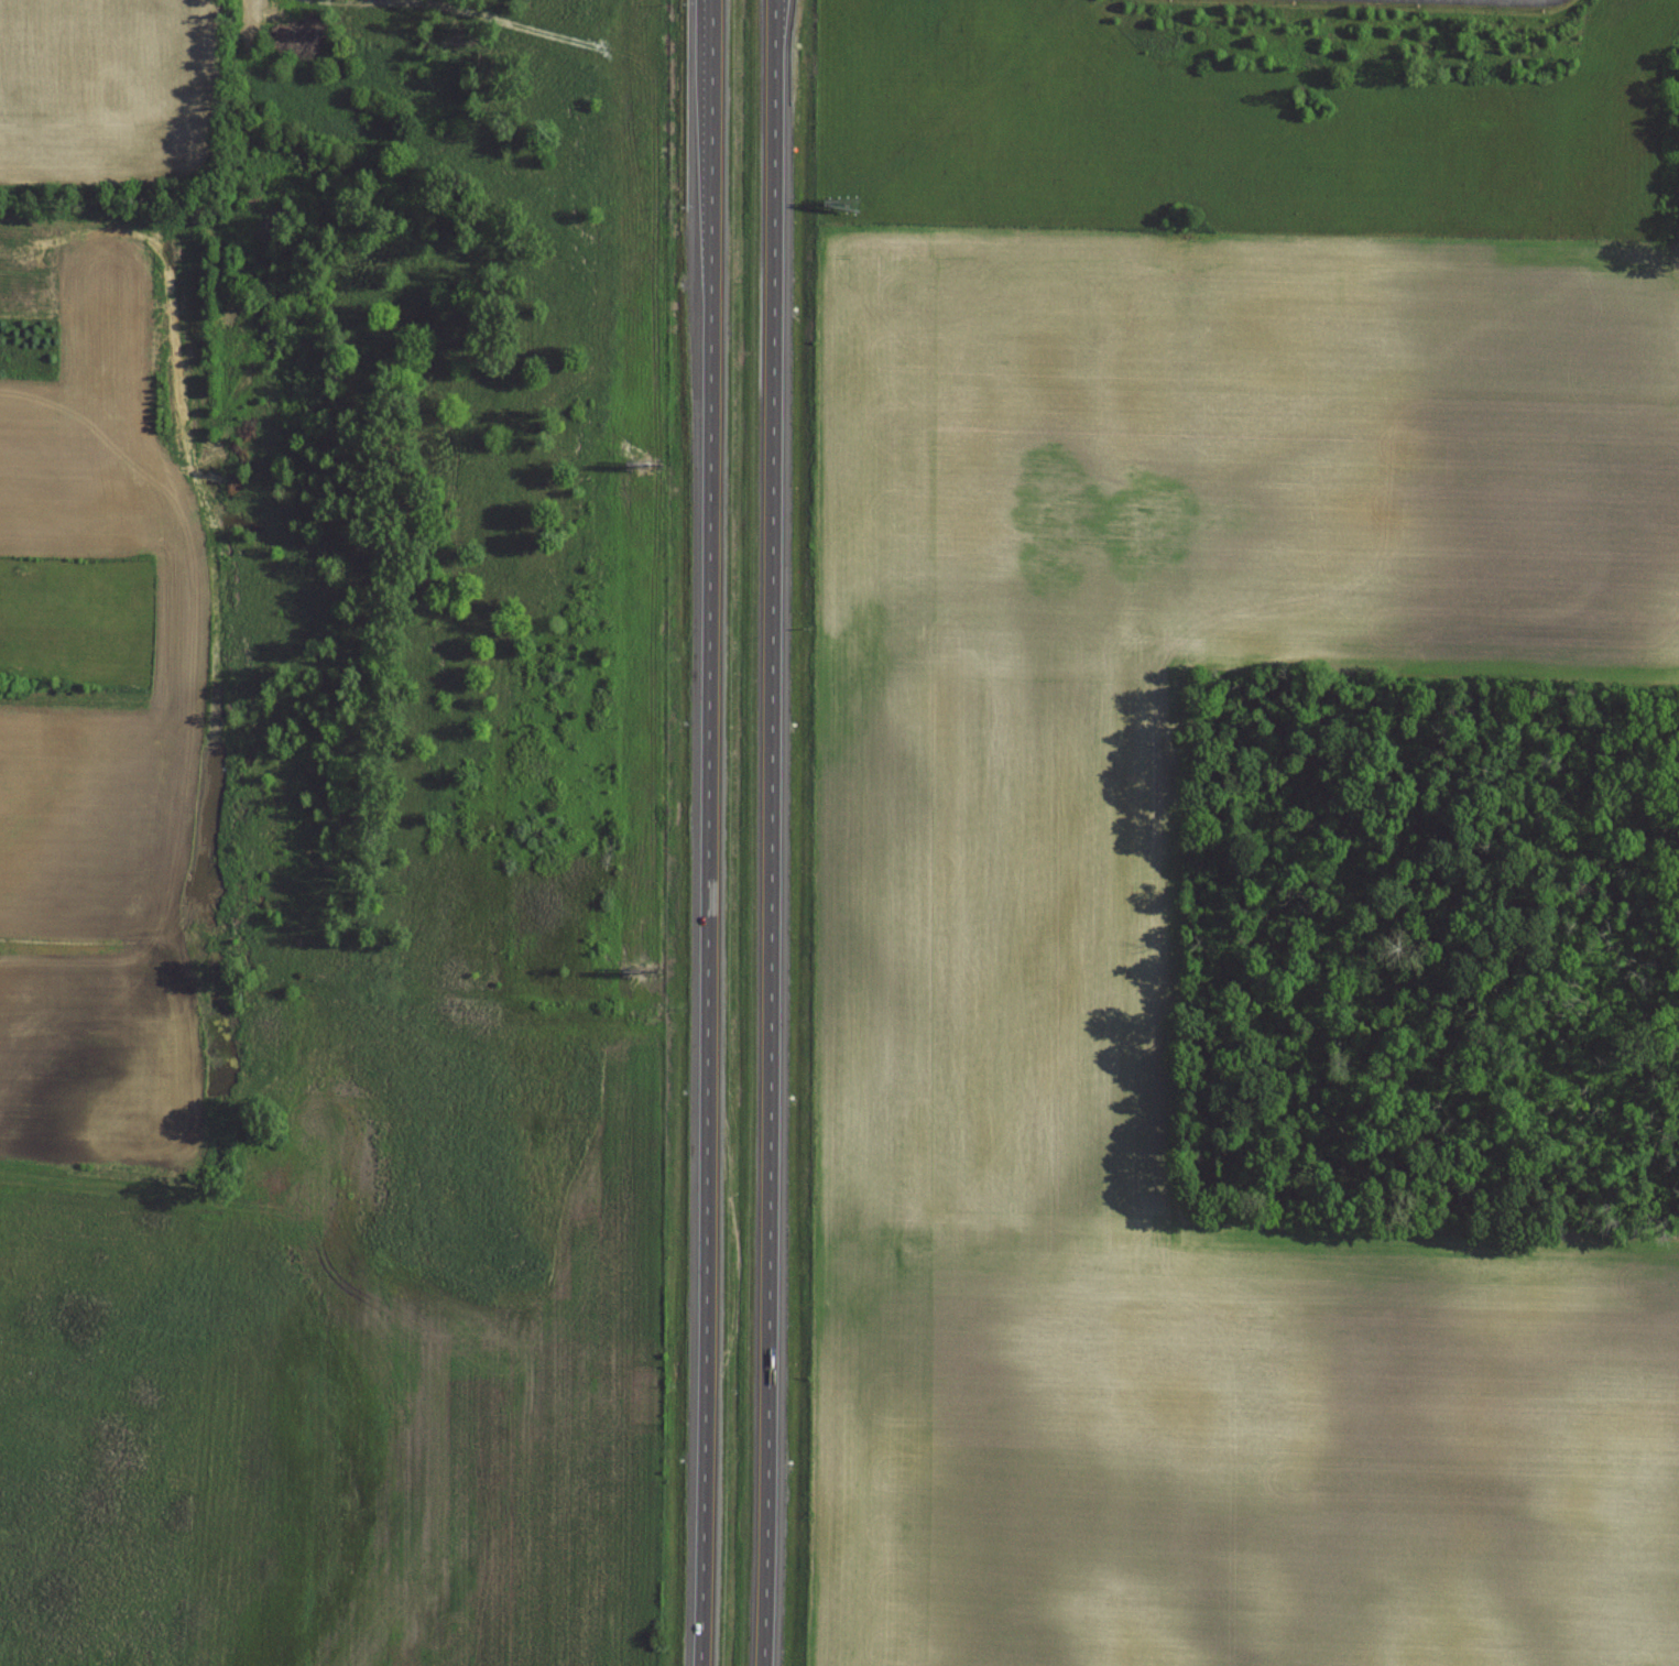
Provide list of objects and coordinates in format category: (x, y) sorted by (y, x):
road: (705, 832)
road: (778, 832)

